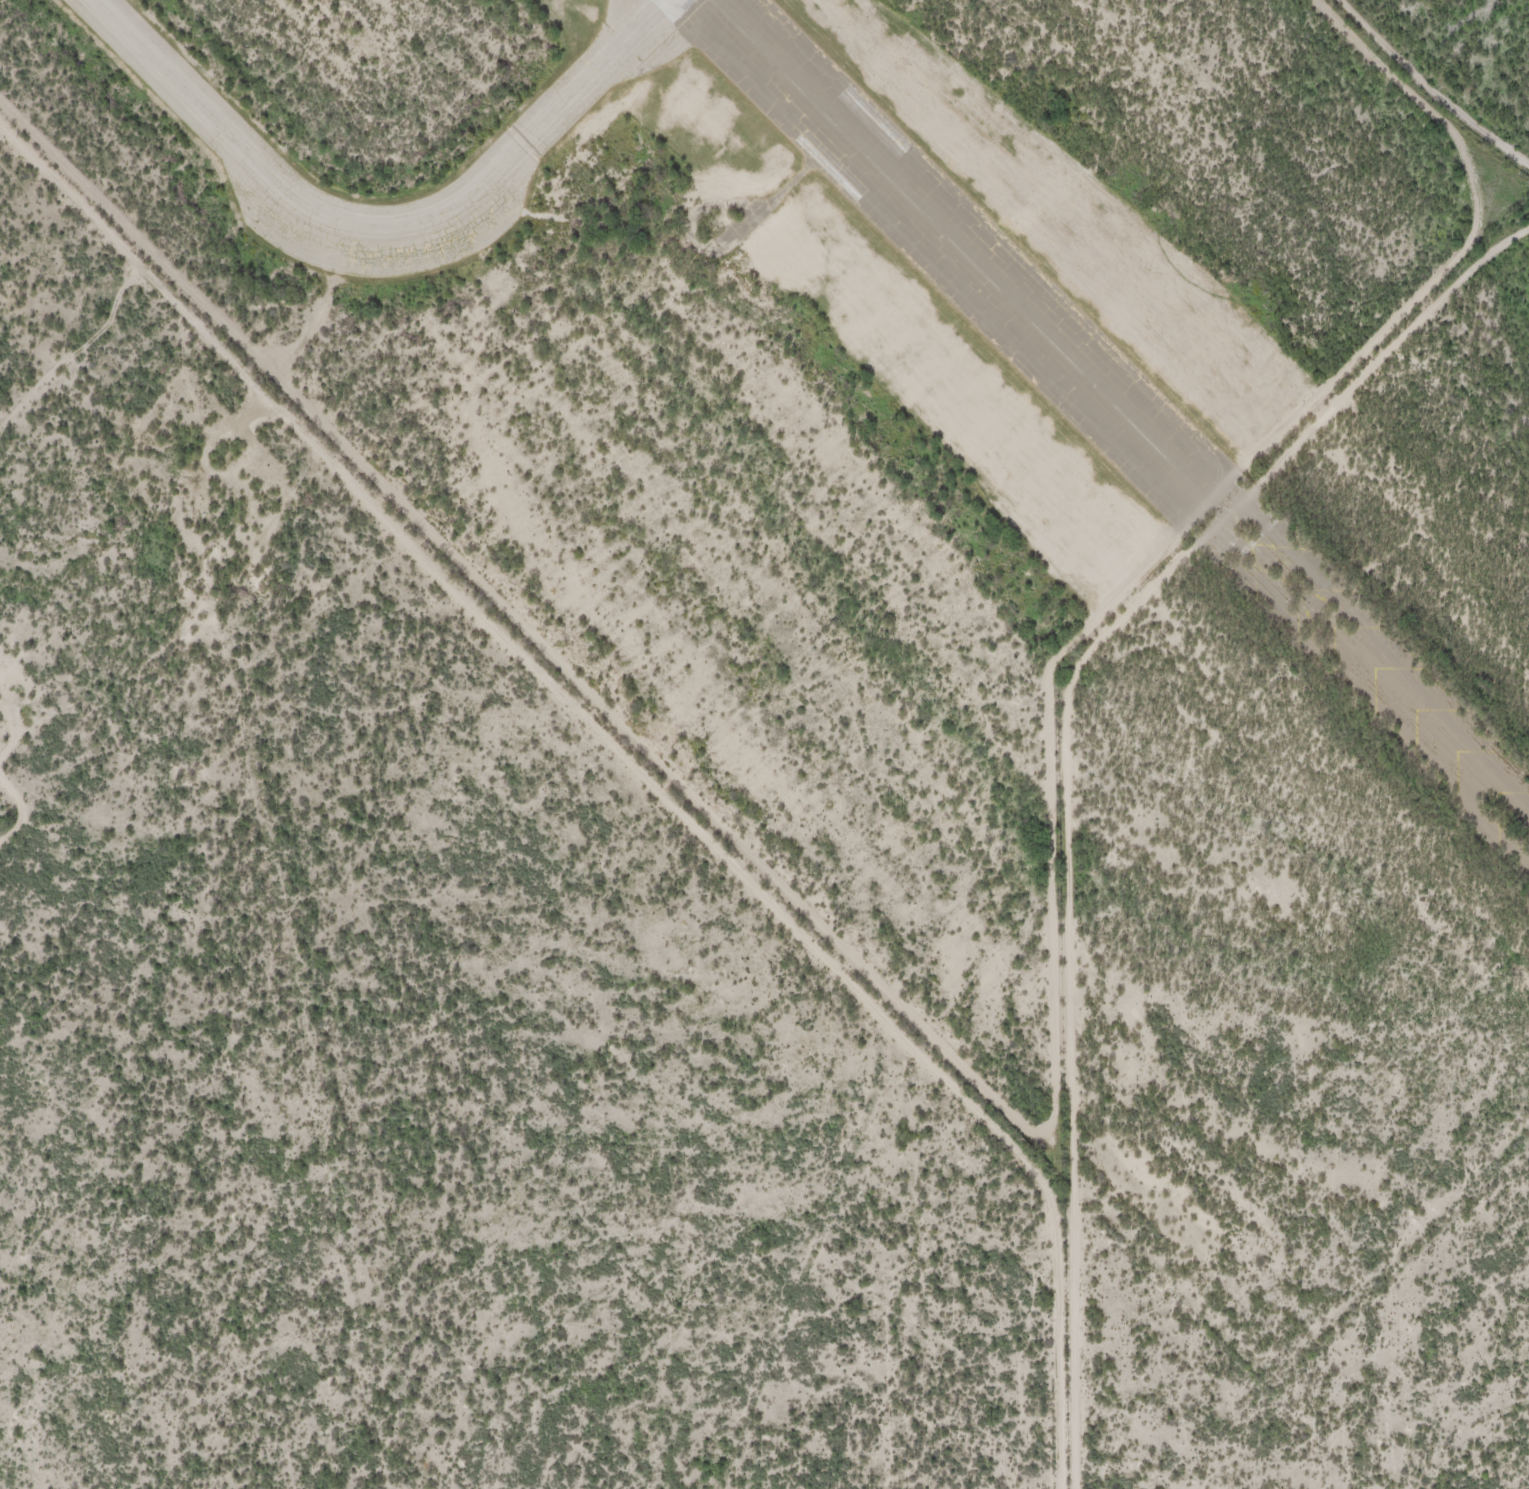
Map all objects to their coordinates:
airport runway: (709, 1)
airport taxiway: (385, 230)
airport: (806, 366)

